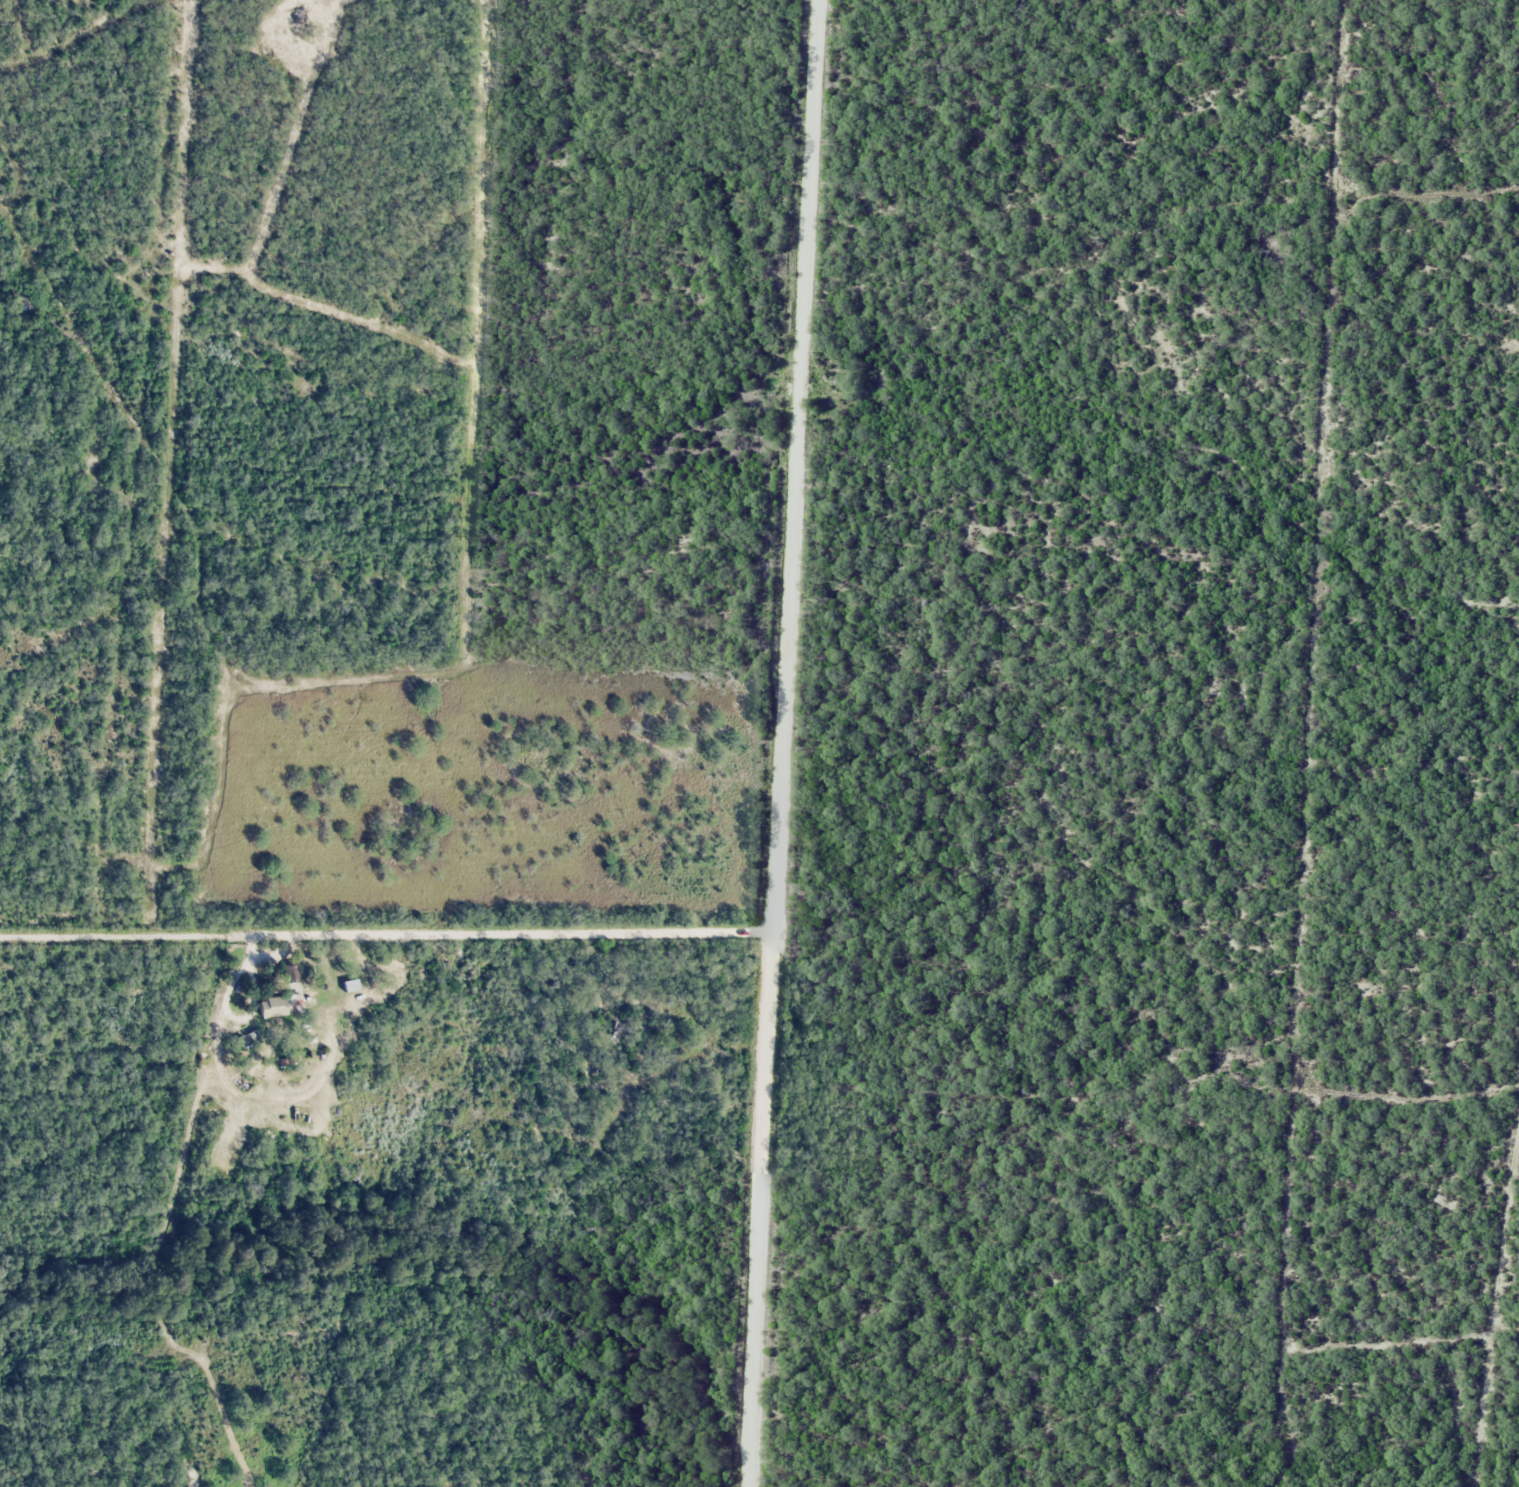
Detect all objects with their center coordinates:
road: (780, 743)
building: (293, 972)
building: (279, 1004)

